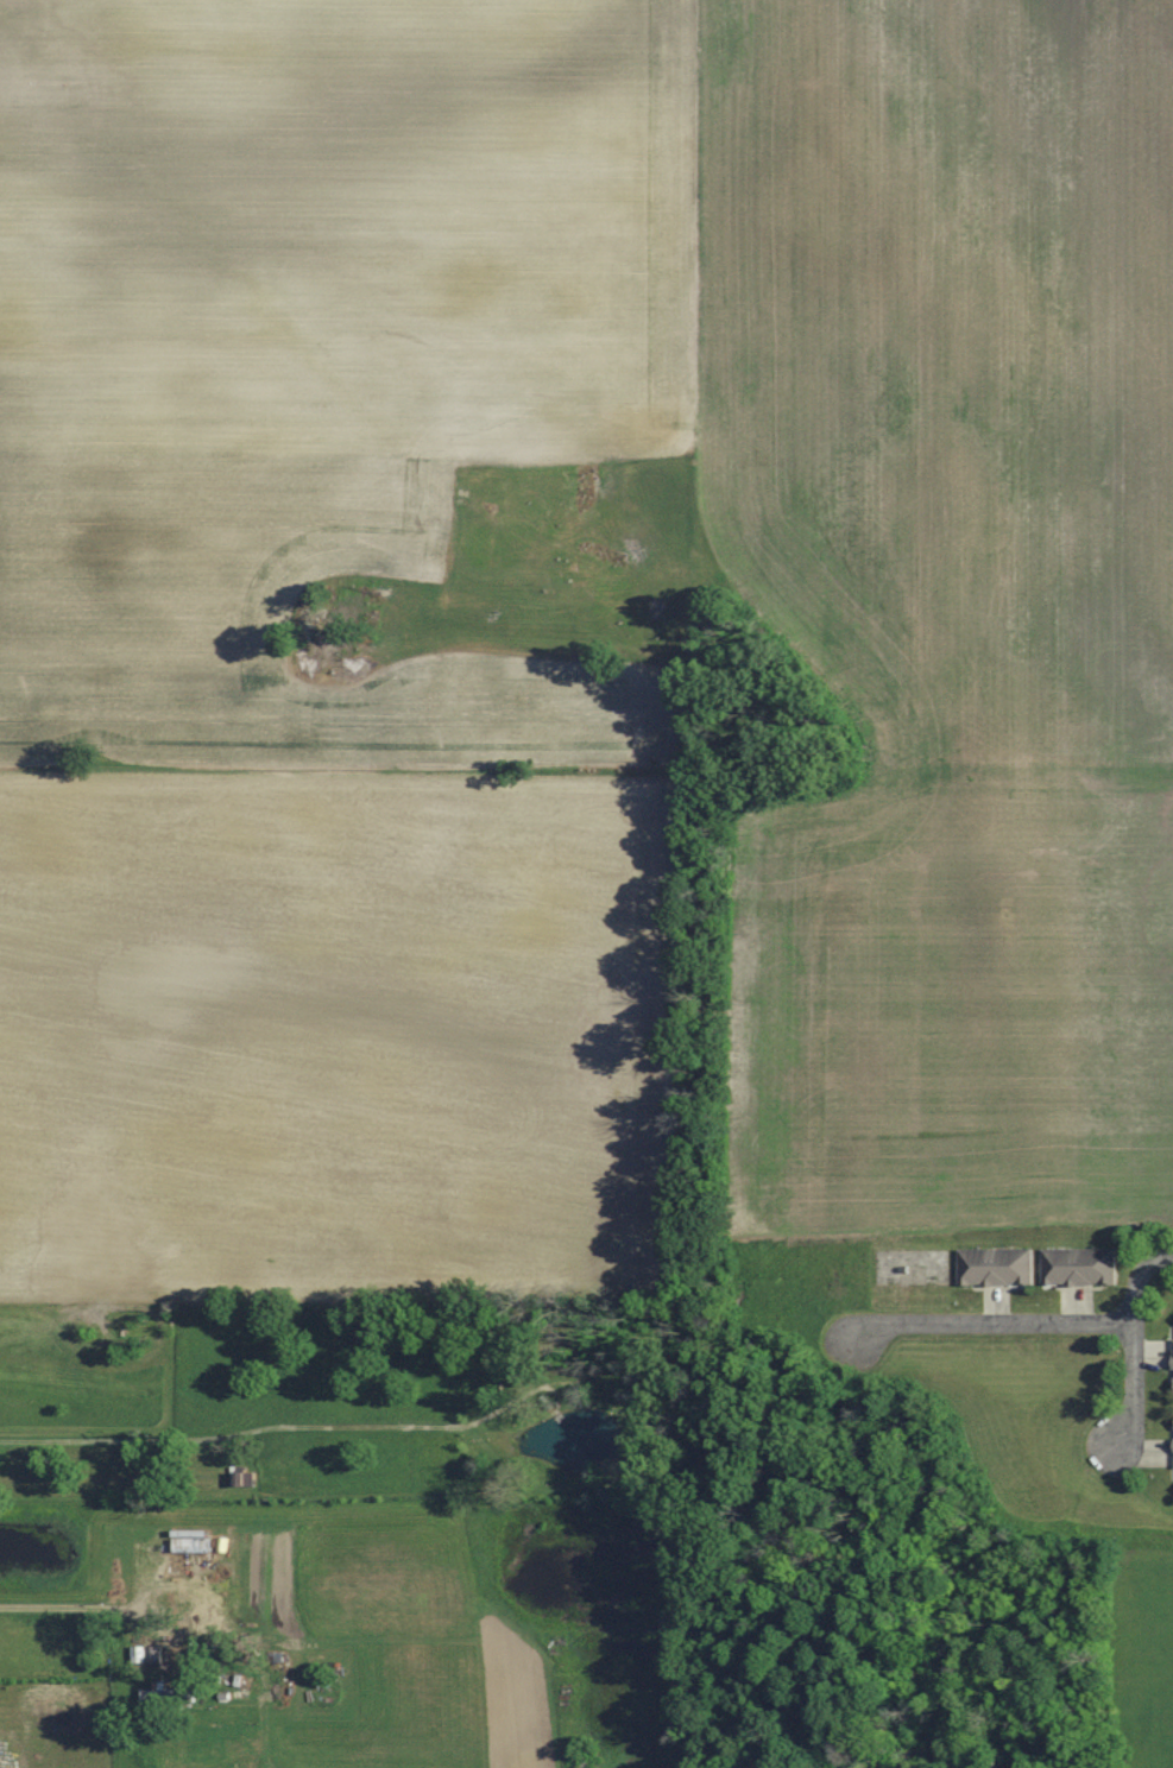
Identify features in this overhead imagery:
building: (934, 1265)
building: (995, 1265)
building: (1079, 1265)
road: (1136, 1277)
road: (985, 1325)
road: (1133, 1391)
road: (108, 1439)
building: (244, 1480)
building: (191, 1545)
building: (189, 1603)
road: (82, 1606)
building: (169, 1696)

